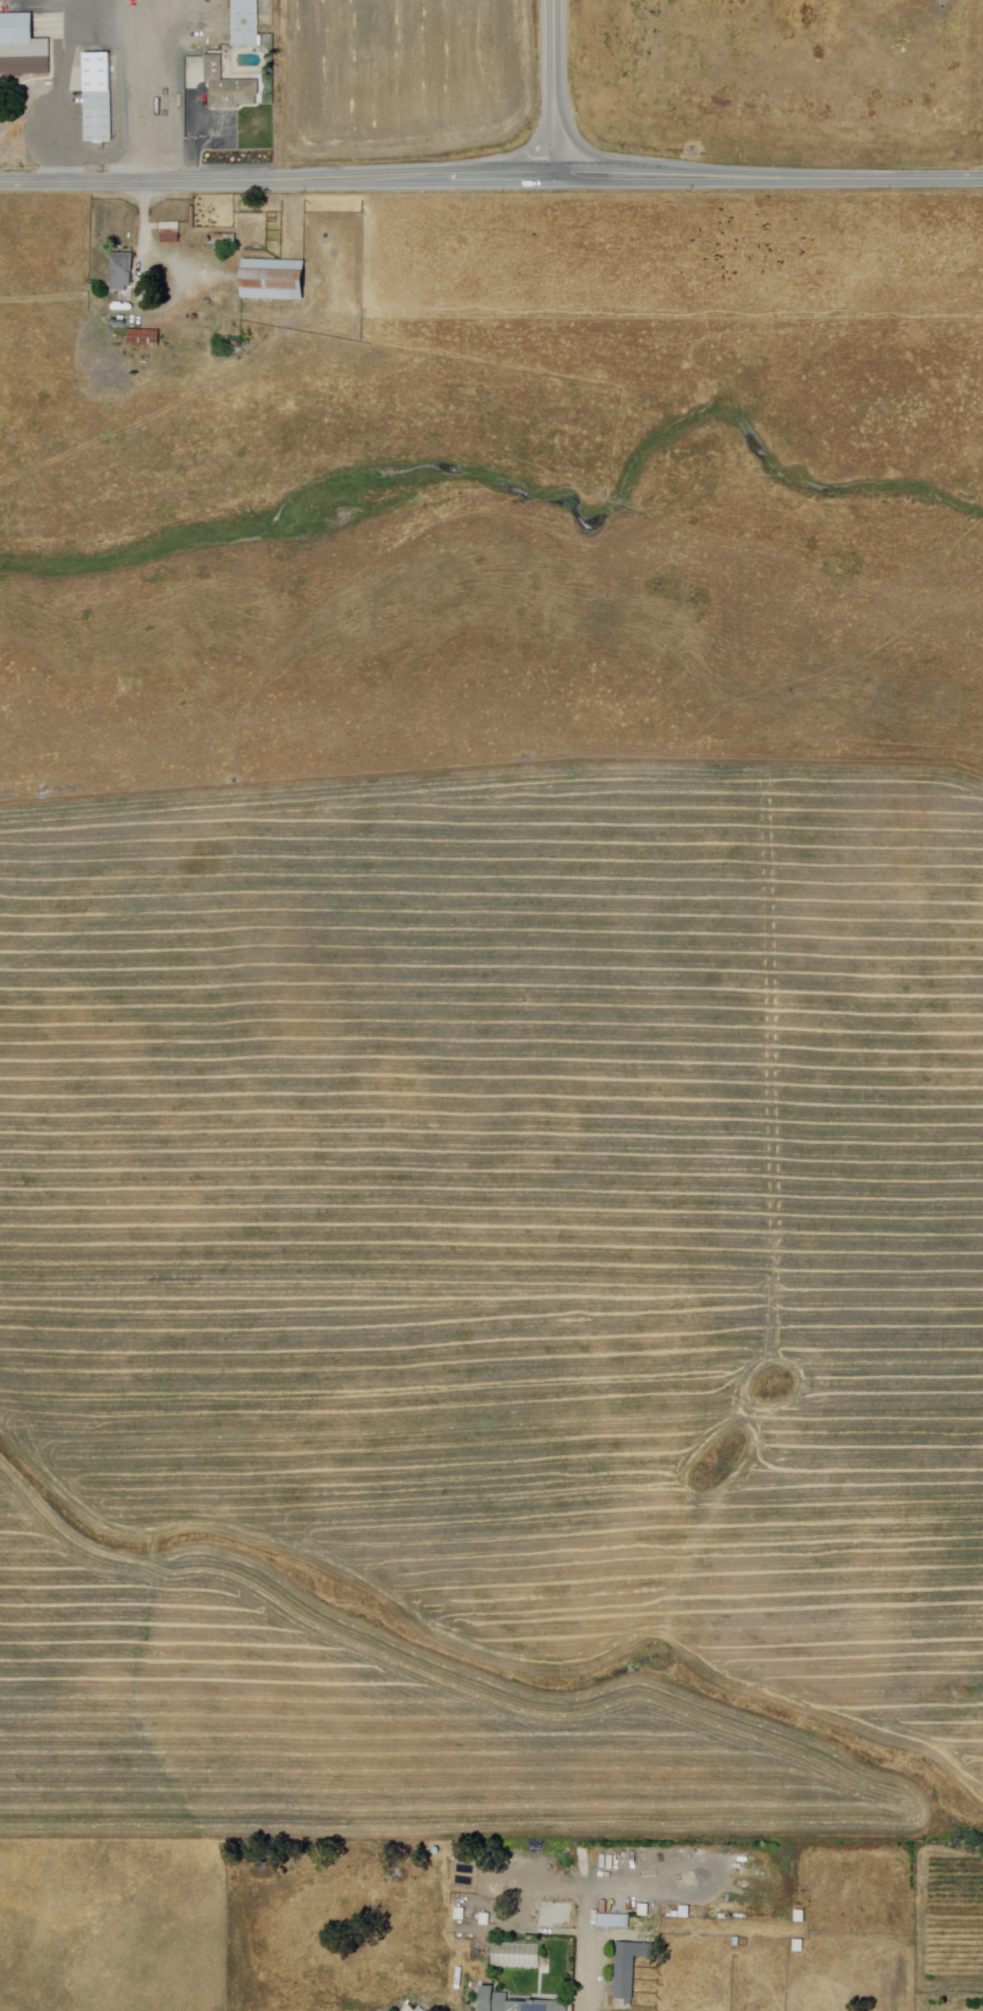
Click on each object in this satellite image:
building: (246, 23)
building: (22, 47)
crop: (404, 77)
crop: (783, 79)
building: (229, 88)
road: (555, 88)
building: (99, 98)
road: (491, 177)
building: (171, 233)
building: (225, 241)
building: (123, 272)
building: (274, 281)
building: (145, 339)
crop: (495, 1304)
storage tank: (457, 1848)
storage tank: (465, 1848)
building: (468, 1859)
building: (466, 1870)
building: (465, 1881)
building: (645, 1910)
building: (686, 1912)
building: (461, 1914)
building: (552, 1914)
building: (802, 1917)
building: (486, 1920)
building: (615, 1921)
road: (591, 1932)
building: (739, 1942)
building: (801, 1946)
building: (518, 1956)
building: (547, 1964)
building: (630, 1967)
building: (517, 2003)
building: (421, 2009)

